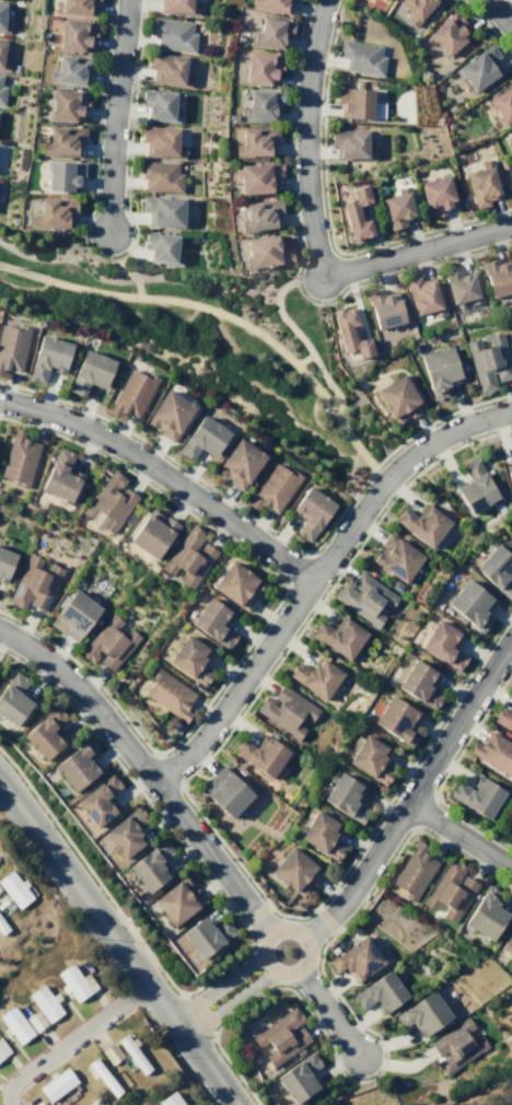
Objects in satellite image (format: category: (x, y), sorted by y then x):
building: (292, 0)
building: (385, 0)
road: (510, 1)
building: (271, 4)
building: (73, 7)
building: (177, 7)
building: (416, 9)
road: (500, 13)
building: (2, 20)
building: (271, 32)
building: (74, 33)
building: (447, 33)
building: (172, 34)
building: (360, 57)
building: (2, 59)
building: (478, 67)
building: (260, 68)
building: (69, 69)
building: (167, 69)
building: (0, 75)
building: (1, 93)
road: (97, 101)
building: (353, 102)
building: (66, 104)
building: (260, 104)
building: (501, 104)
building: (159, 105)
road: (114, 115)
road: (129, 127)
road: (288, 127)
road: (305, 138)
building: (510, 140)
building: (61, 141)
building: (160, 141)
building: (255, 141)
building: (350, 143)
building: (61, 175)
building: (160, 176)
building: (257, 176)
building: (481, 184)
building: (435, 195)
building: (397, 207)
building: (162, 209)
building: (54, 211)
building: (259, 214)
building: (354, 214)
road: (83, 241)
building: (161, 247)
road: (417, 251)
building: (265, 252)
road: (121, 254)
road: (131, 275)
building: (497, 276)
road: (382, 278)
building: (462, 287)
building: (423, 295)
road: (183, 302)
building: (384, 307)
building: (349, 333)
park: (209, 341)
road: (302, 341)
building: (12, 346)
building: (47, 357)
road: (302, 358)
building: (488, 361)
building: (439, 370)
building: (89, 372)
building: (131, 394)
building: (398, 398)
building: (168, 414)
building: (201, 438)
road: (351, 439)
building: (19, 457)
building: (238, 463)
building: (509, 474)
building: (59, 475)
road: (163, 476)
building: (272, 488)
building: (475, 488)
building: (108, 500)
building: (310, 511)
road: (341, 511)
building: (422, 524)
building: (151, 532)
building: (187, 556)
building: (396, 557)
building: (4, 562)
building: (496, 569)
road: (316, 573)
building: (34, 583)
building: (235, 584)
building: (395, 584)
building: (363, 597)
building: (469, 604)
building: (72, 615)
building: (212, 621)
building: (91, 628)
building: (338, 637)
building: (107, 642)
building: (443, 643)
building: (188, 659)
building: (315, 676)
building: (418, 684)
building: (167, 694)
building: (11, 699)
building: (286, 710)
building: (395, 719)
building: (503, 719)
building: (44, 733)
building: (493, 753)
building: (260, 755)
building: (369, 759)
building: (75, 765)
road: (147, 770)
building: (223, 791)
road: (415, 793)
building: (477, 795)
building: (345, 796)
building: (96, 800)
building: (509, 827)
building: (124, 830)
building: (319, 834)
road: (461, 834)
building: (149, 865)
building: (294, 870)
building: (412, 871)
road: (73, 882)
building: (14, 888)
building: (449, 891)
building: (177, 899)
building: (485, 914)
building: (2, 927)
road: (284, 929)
building: (205, 935)
building: (507, 942)
road: (249, 943)
building: (354, 958)
building: (74, 981)
road: (218, 987)
building: (380, 991)
building: (45, 1002)
road: (229, 1002)
road: (242, 1009)
road: (330, 1012)
building: (422, 1012)
road: (196, 1016)
building: (34, 1020)
building: (13, 1025)
building: (280, 1035)
road: (70, 1039)
road: (194, 1044)
building: (456, 1046)
building: (2, 1048)
building: (298, 1051)
road: (71, 1052)
building: (110, 1052)
building: (132, 1052)
building: (254, 1056)
building: (102, 1077)
building: (298, 1077)
building: (56, 1083)
building: (170, 1100)
building: (37, 1103)
building: (89, 1103)
building: (92, 1104)

